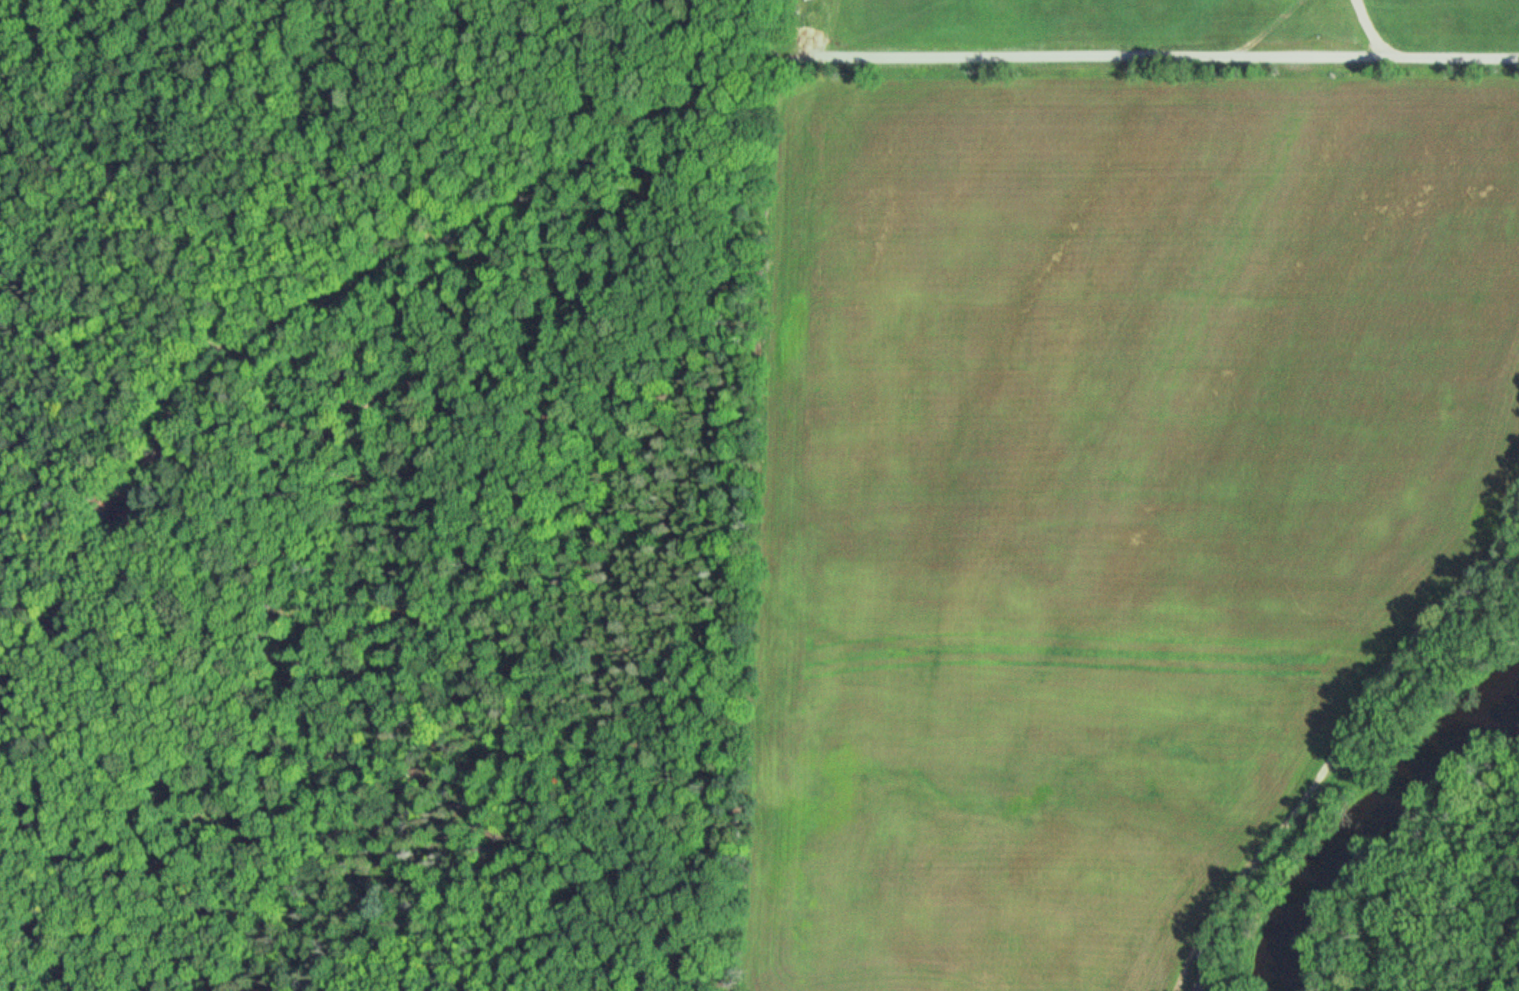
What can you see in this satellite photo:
road: (626, 143)
road: (132, 320)
river: (1363, 824)

